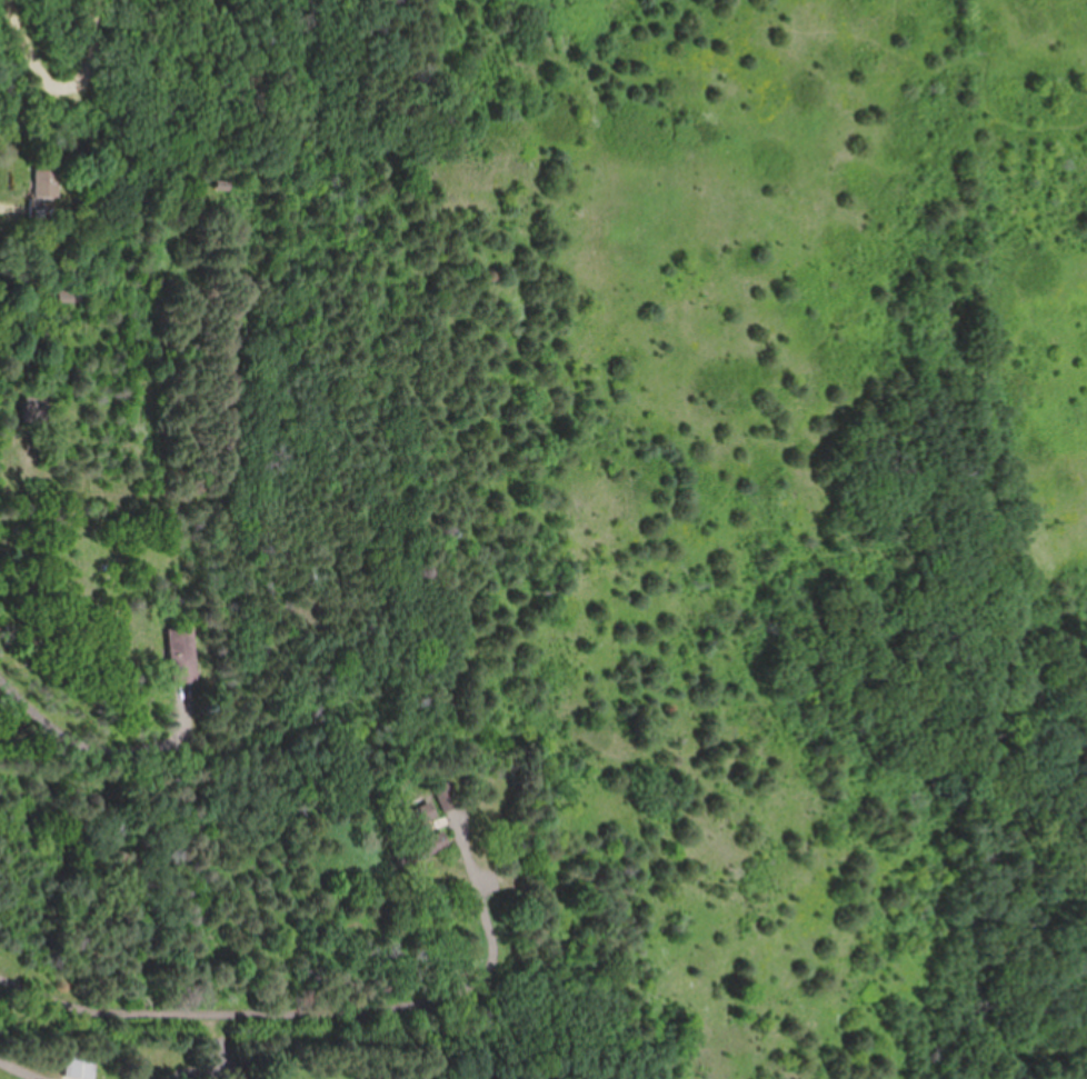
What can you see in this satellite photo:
road: (63, 93)
building: (44, 191)
building: (36, 409)
park: (731, 504)
building: (183, 655)
road: (100, 733)
building: (418, 822)
road: (316, 1022)
building: (80, 1065)
road: (21, 1070)

